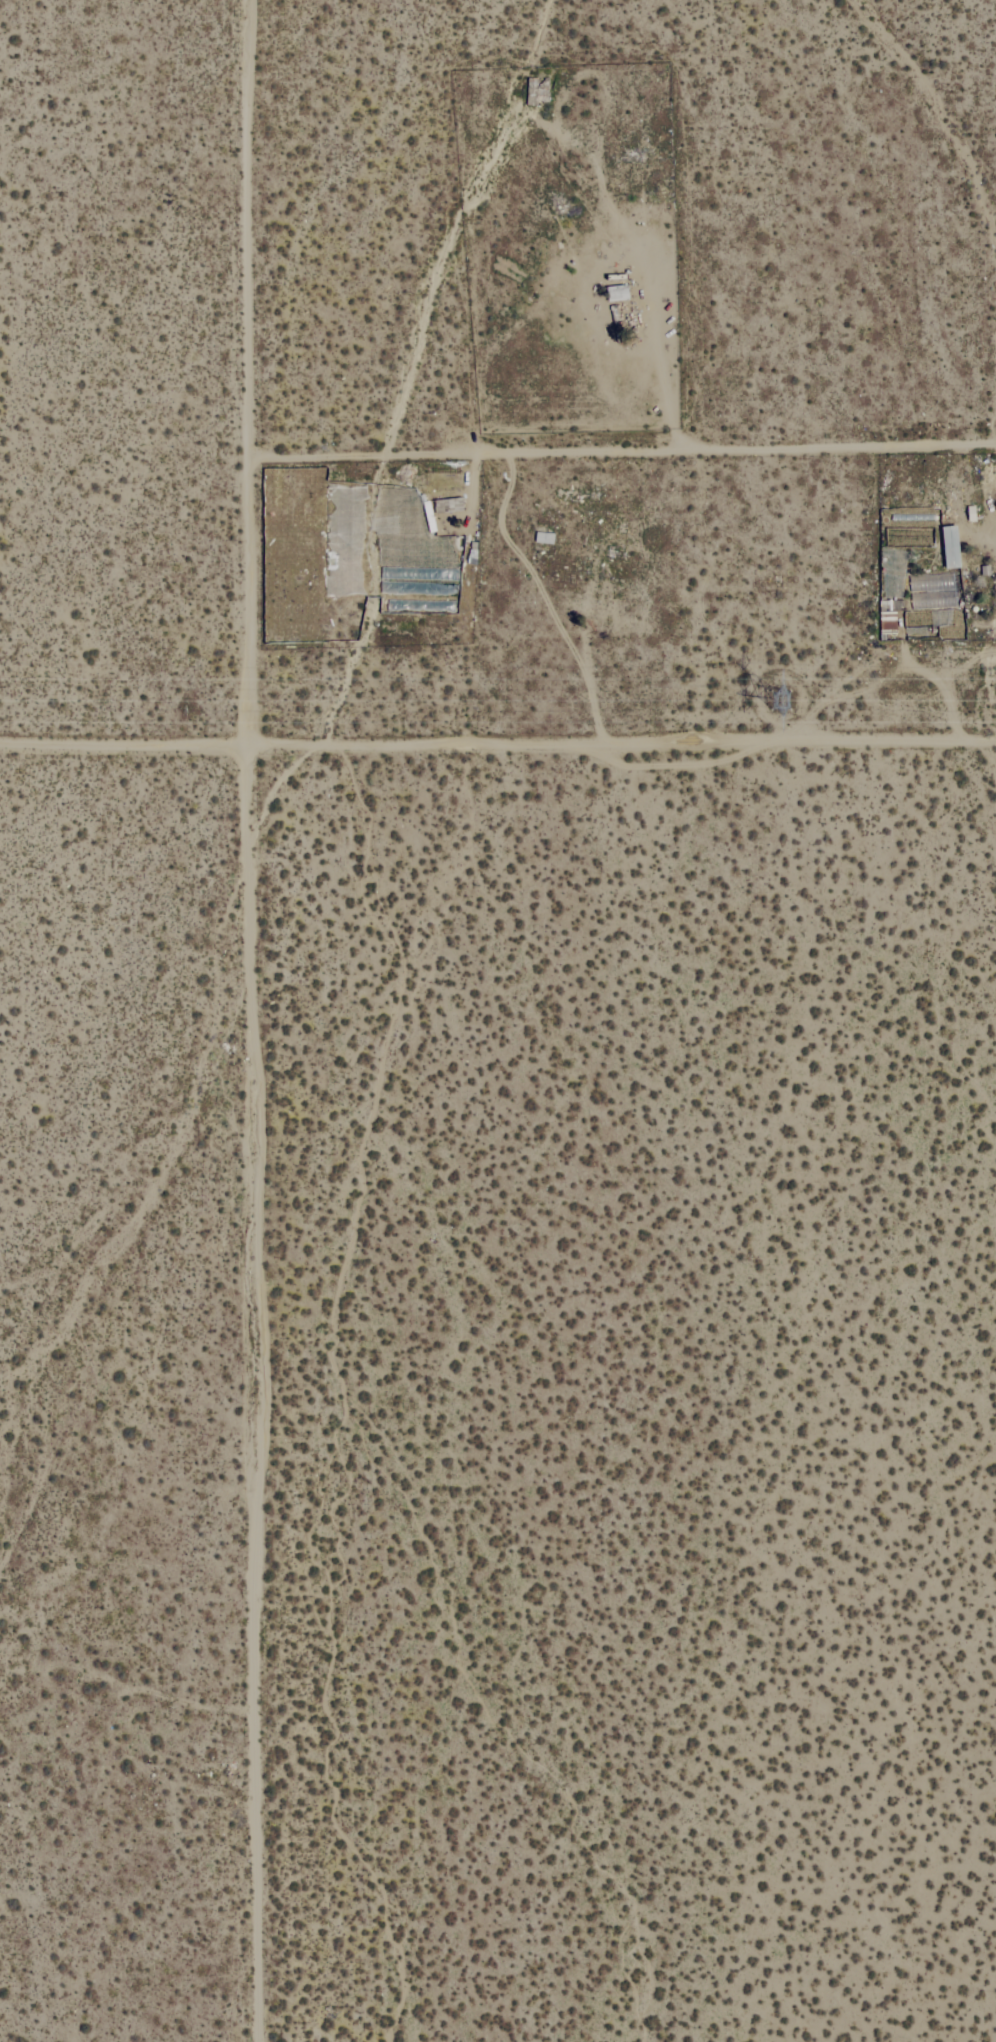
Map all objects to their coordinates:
road: (630, 445)
power tower: (796, 705)
road: (497, 746)
road: (266, 1020)

